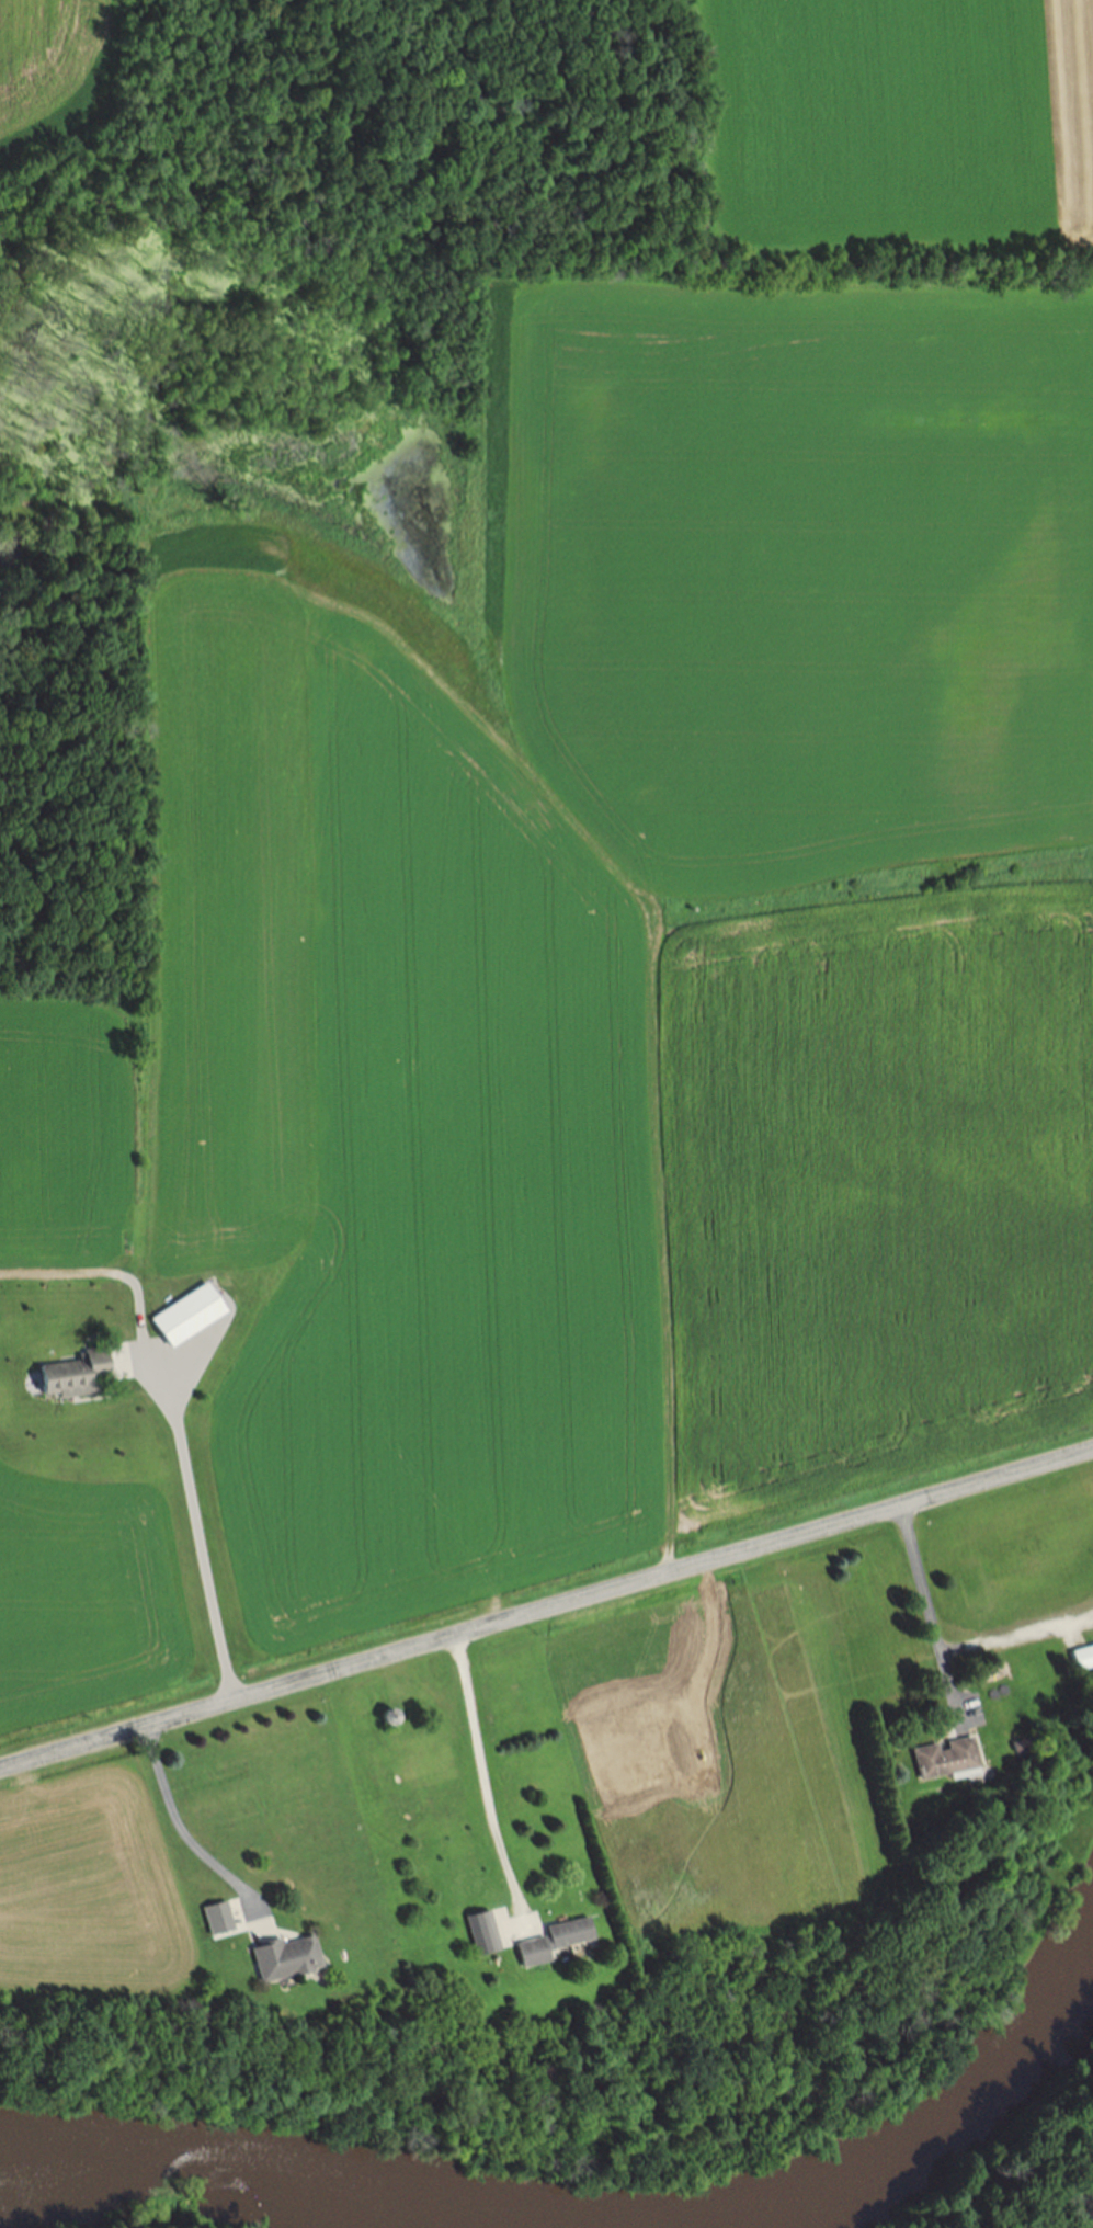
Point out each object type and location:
building: (190, 1316)
building: (82, 1376)
road: (197, 1536)
road: (546, 1607)
road: (927, 1611)
road: (1017, 1637)
building: (1081, 1659)
building: (945, 1760)
road: (481, 1776)
road: (180, 1831)
building: (218, 1920)
building: (252, 1928)
building: (565, 1939)
building: (286, 1960)
river: (596, 2221)

